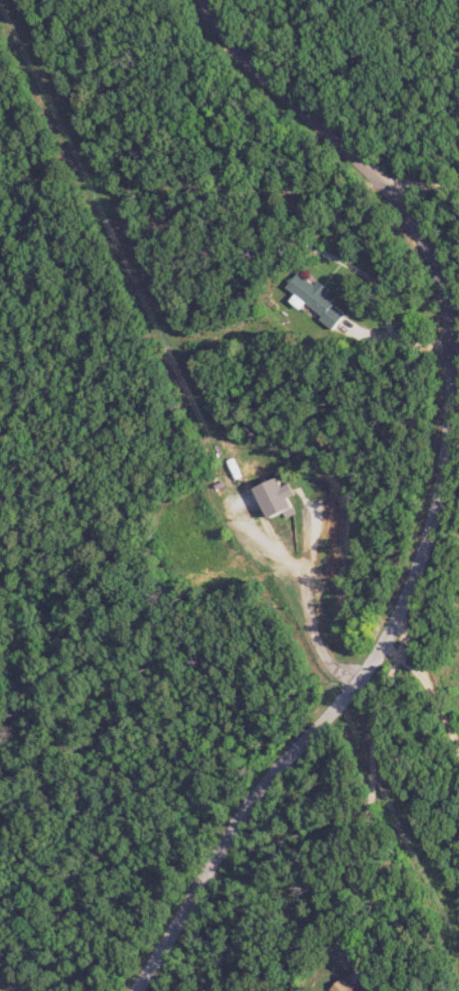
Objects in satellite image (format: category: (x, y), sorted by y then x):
road: (422, 182)
building: (321, 301)
road: (437, 494)
building: (279, 497)
road: (313, 603)
road: (429, 682)
road: (373, 798)
building: (357, 986)
building: (381, 989)

